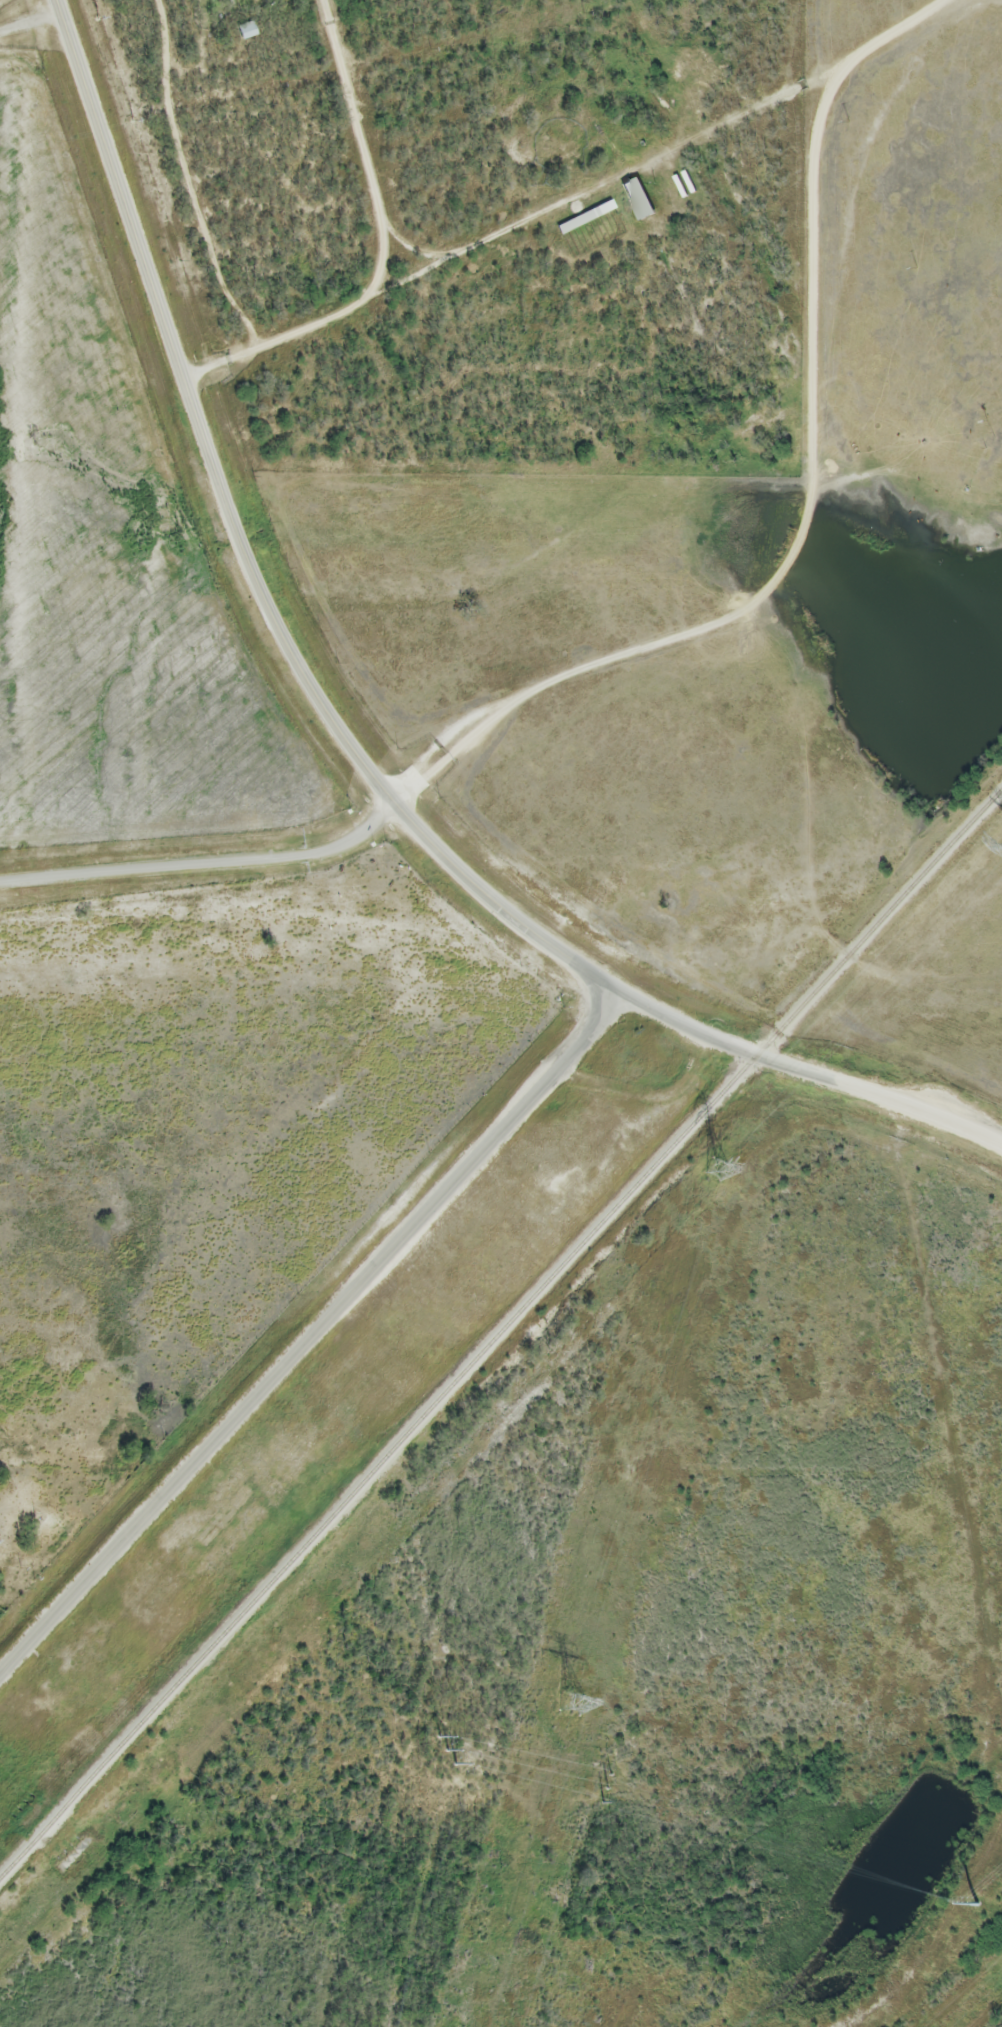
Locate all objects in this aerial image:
road: (30, 20)
building: (246, 32)
road: (365, 149)
road: (601, 183)
building: (637, 200)
building: (585, 218)
road: (411, 247)
road: (278, 341)
road: (238, 534)
road: (796, 536)
road: (204, 859)
road: (669, 1016)
road: (881, 1098)
power tower: (715, 1171)
railway: (499, 1330)
road: (313, 1335)
power tower: (571, 1705)
power tower: (446, 1752)
power tower: (976, 1904)

